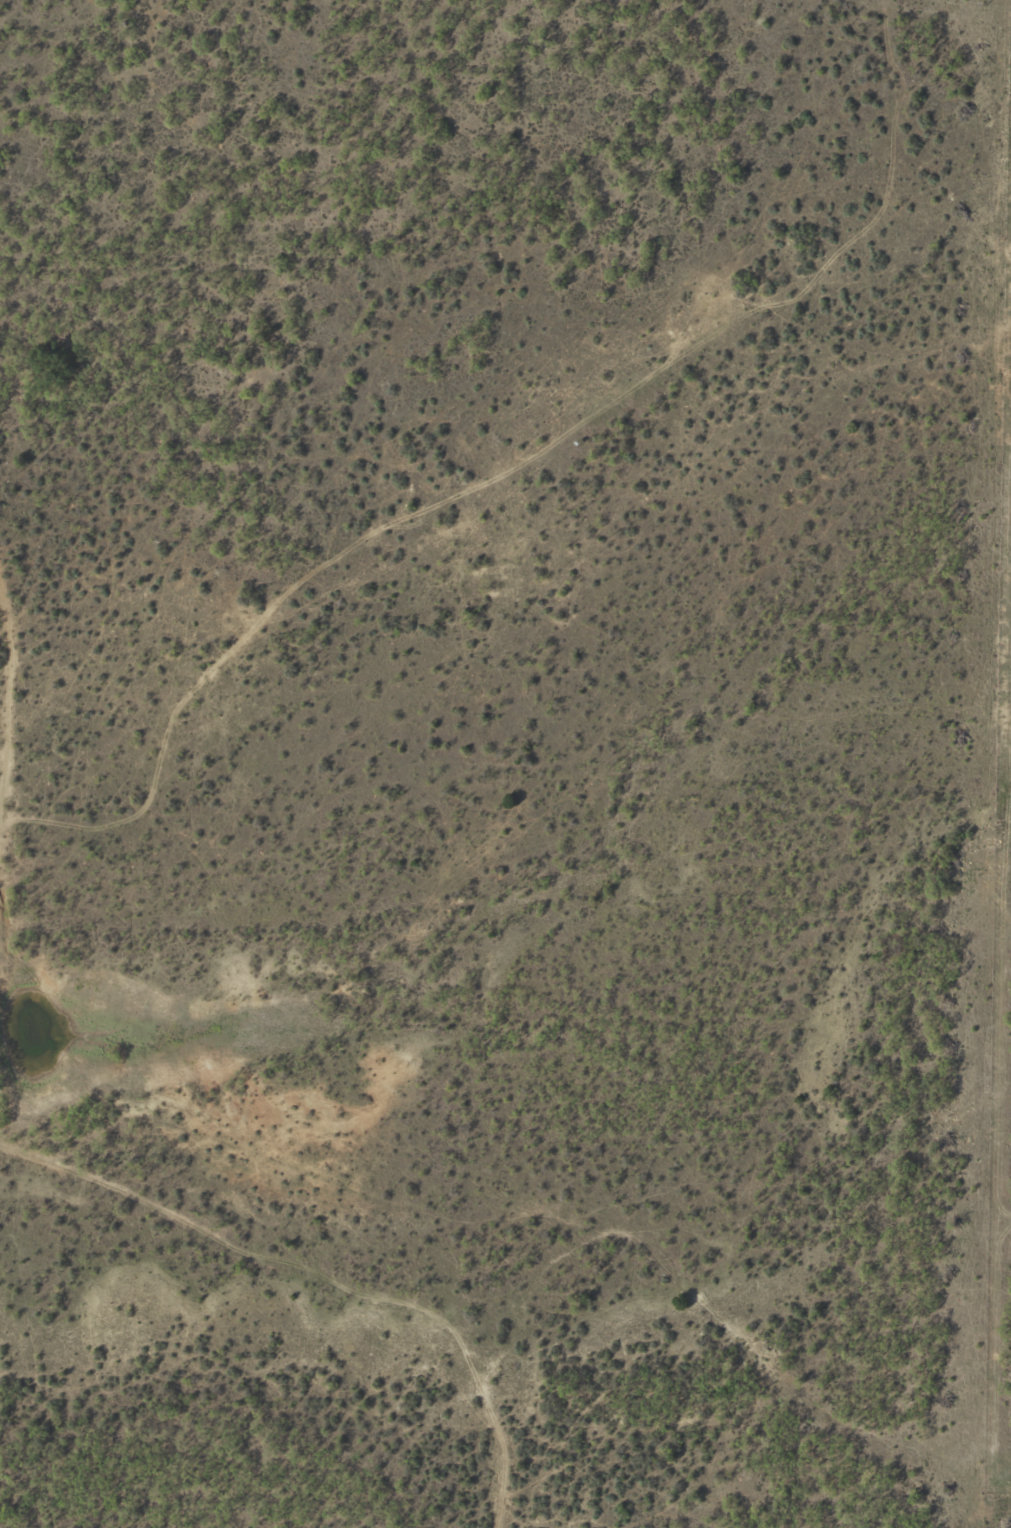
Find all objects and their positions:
road: (321, 1311)

